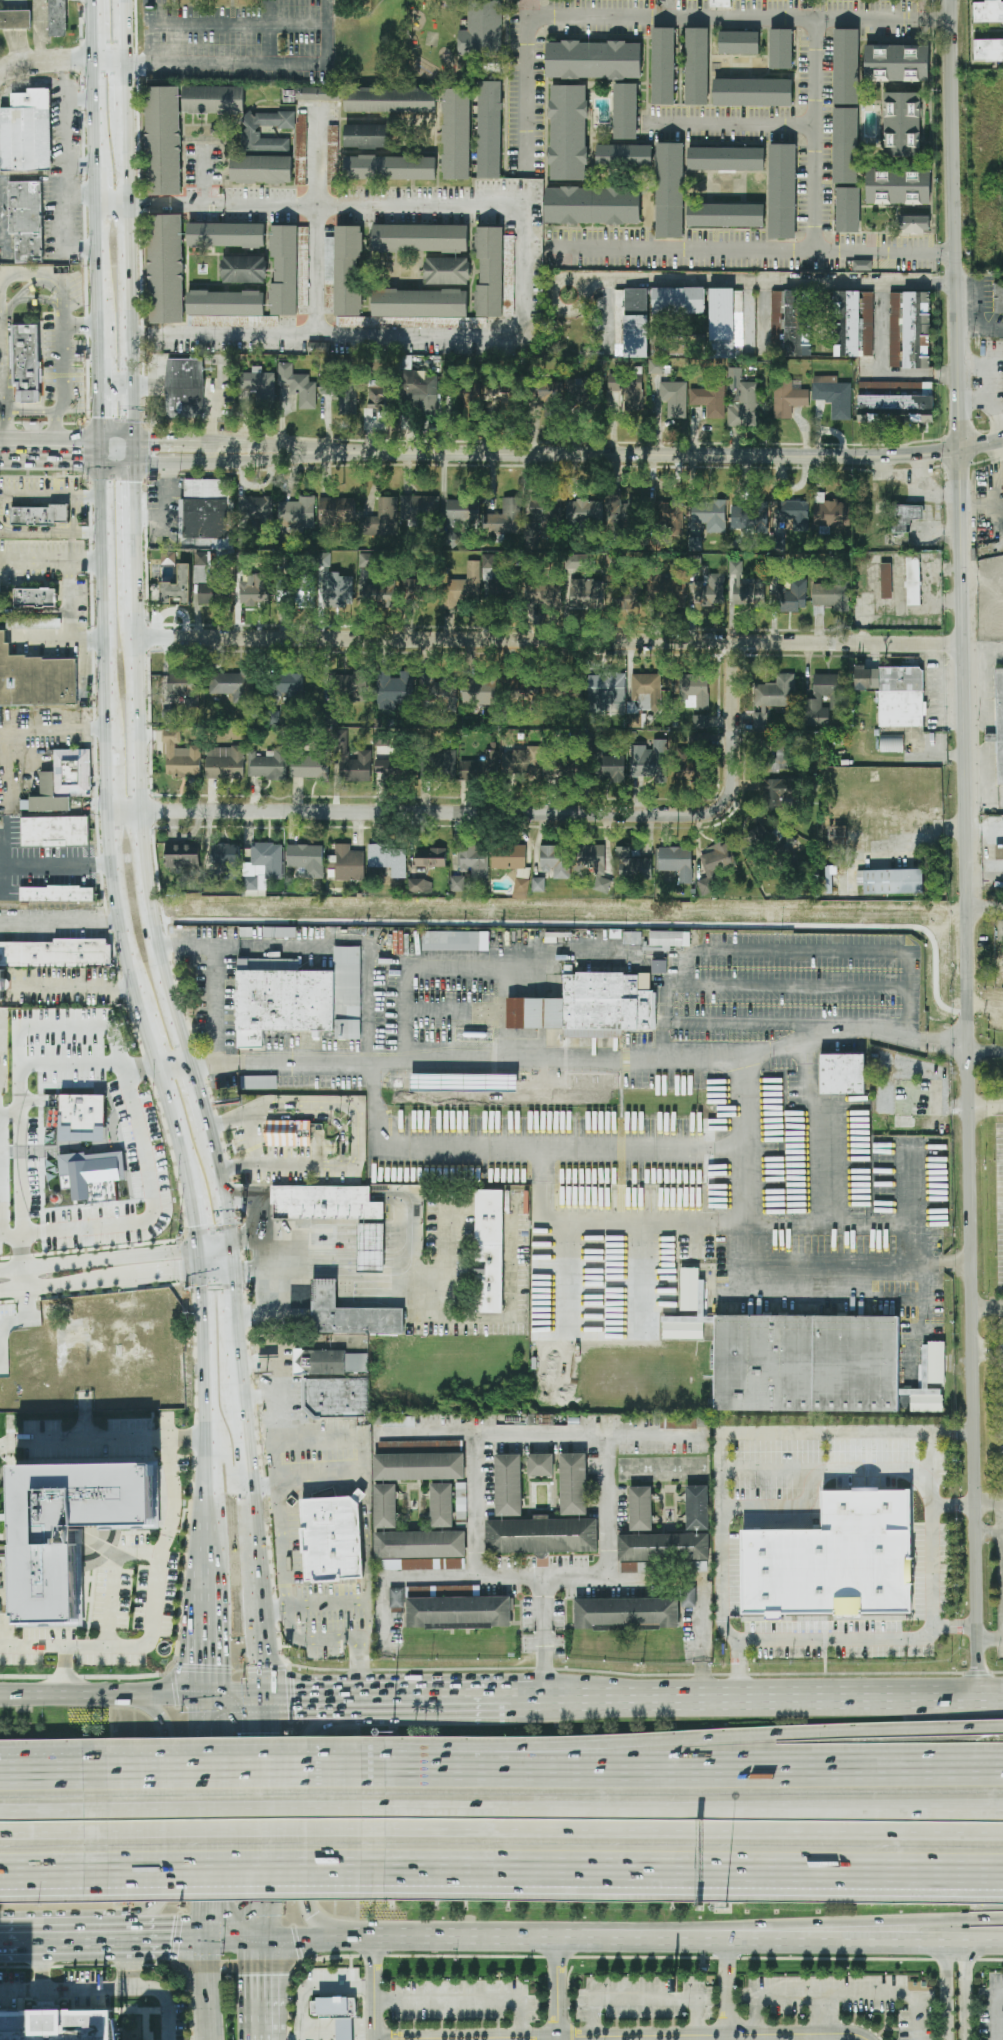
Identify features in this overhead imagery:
building: (988, 12)
building: (57, 18)
road: (740, 19)
building: (15, 20)
road: (220, 25)
building: (482, 30)
road: (40, 31)
road: (13, 32)
road: (95, 32)
road: (269, 32)
building: (739, 43)
building: (781, 49)
building: (988, 50)
building: (594, 60)
road: (47, 62)
building: (897, 63)
road: (110, 64)
road: (258, 64)
building: (663, 66)
building: (697, 66)
building: (846, 66)
road: (493, 70)
road: (64, 80)
road: (527, 92)
building: (753, 92)
building: (318, 93)
road: (81, 96)
building: (391, 100)
road: (96, 102)
building: (625, 112)
road: (732, 123)
building: (902, 124)
building: (179, 127)
road: (67, 129)
building: (490, 130)
building: (27, 132)
building: (568, 133)
building: (456, 134)
road: (819, 135)
building: (367, 136)
building: (845, 145)
building: (263, 151)
building: (624, 156)
building: (726, 158)
road: (82, 166)
building: (390, 168)
road: (204, 175)
road: (70, 177)
road: (98, 185)
building: (899, 186)
building: (670, 190)
building: (782, 191)
road: (222, 204)
road: (59, 205)
road: (421, 205)
building: (592, 205)
building: (848, 210)
building: (726, 215)
road: (317, 217)
road: (127, 219)
building: (26, 220)
building: (913, 225)
road: (113, 232)
building: (226, 235)
building: (420, 238)
road: (754, 250)
road: (80, 252)
building: (285, 256)
building: (862, 265)
building: (166, 268)
building: (244, 269)
building: (447, 270)
road: (525, 270)
road: (49, 274)
building: (493, 275)
road: (101, 278)
building: (350, 279)
road: (39, 283)
road: (760, 285)
building: (998, 297)
building: (678, 301)
building: (420, 306)
road: (607, 314)
road: (770, 318)
building: (636, 323)
building: (853, 324)
road: (980, 327)
road: (5, 328)
building: (910, 330)
road: (326, 336)
road: (104, 348)
road: (62, 362)
building: (25, 366)
building: (656, 366)
road: (886, 367)
road: (0, 379)
building: (259, 384)
building: (184, 389)
building: (294, 389)
road: (115, 390)
building: (421, 391)
building: (580, 391)
building: (340, 394)
building: (499, 396)
building: (833, 396)
building: (634, 397)
building: (674, 398)
building: (378, 399)
building: (551, 399)
building: (788, 399)
building: (709, 400)
building: (895, 402)
road: (105, 405)
building: (744, 406)
road: (31, 412)
traffic signals: (105, 417)
road: (6, 425)
road: (52, 439)
road: (115, 439)
traffic signals: (150, 439)
road: (162, 439)
road: (273, 442)
road: (105, 452)
road: (126, 452)
road: (676, 457)
road: (237, 462)
road: (12, 465)
road: (64, 465)
traffic signals: (83, 466)
road: (115, 466)
road: (170, 471)
traffic signals: (126, 483)
road: (52, 497)
road: (126, 500)
building: (419, 507)
building: (258, 508)
road: (170, 509)
building: (462, 510)
building: (337, 511)
building: (296, 512)
building: (830, 512)
building: (584, 513)
building: (793, 514)
building: (40, 515)
building: (670, 515)
building: (711, 515)
building: (504, 517)
building: (749, 517)
road: (137, 518)
building: (205, 518)
building: (382, 519)
building: (538, 519)
building: (902, 523)
road: (52, 533)
building: (695, 544)
road: (53, 556)
building: (167, 558)
building: (369, 560)
building: (578, 561)
building: (992, 563)
road: (127, 566)
building: (913, 580)
building: (886, 581)
building: (478, 585)
building: (177, 587)
building: (416, 588)
building: (664, 588)
building: (745, 588)
building: (255, 590)
building: (297, 590)
building: (337, 590)
building: (709, 591)
building: (207, 592)
building: (543, 594)
building: (585, 594)
building: (378, 595)
building: (793, 596)
building: (830, 596)
building: (34, 597)
road: (70, 598)
road: (171, 611)
building: (38, 623)
road: (75, 639)
road: (546, 641)
building: (35, 680)
building: (288, 683)
building: (233, 685)
building: (182, 687)
building: (394, 690)
building: (438, 691)
building: (480, 691)
building: (646, 691)
building: (694, 691)
building: (606, 694)
building: (895, 694)
building: (771, 698)
building: (822, 700)
building: (170, 715)
building: (700, 721)
building: (998, 724)
road: (55, 725)
building: (697, 739)
building: (892, 743)
building: (784, 753)
building: (180, 757)
building: (650, 761)
building: (225, 762)
building: (352, 762)
building: (522, 763)
building: (267, 765)
building: (445, 765)
building: (309, 767)
building: (480, 767)
building: (386, 768)
building: (610, 768)
building: (563, 769)
building: (688, 770)
road: (108, 773)
building: (61, 782)
building: (781, 794)
road: (500, 813)
road: (931, 826)
building: (55, 832)
road: (137, 834)
building: (837, 839)
road: (965, 847)
building: (999, 851)
building: (182, 855)
building: (430, 857)
building: (509, 857)
building: (592, 857)
building: (226, 858)
building: (268, 858)
building: (473, 860)
building: (305, 861)
building: (387, 861)
building: (555, 861)
building: (677, 862)
building: (347, 863)
road: (39, 865)
building: (633, 865)
building: (715, 865)
building: (253, 877)
building: (890, 881)
building: (457, 883)
building: (538, 884)
building: (602, 884)
building: (420, 885)
building: (521, 888)
building: (58, 894)
road: (984, 907)
road: (60, 925)
building: (669, 939)
building: (456, 941)
road: (241, 944)
road: (618, 946)
building: (58, 953)
building: (659, 966)
building: (2, 984)
road: (76, 986)
building: (299, 999)
road: (221, 1001)
road: (411, 1005)
building: (590, 1006)
road: (436, 1009)
road: (985, 1050)
road: (582, 1058)
building: (842, 1074)
building: (259, 1082)
road: (18, 1096)
road: (196, 1097)
road: (986, 1105)
building: (82, 1117)
road: (353, 1131)
building: (287, 1133)
road: (178, 1134)
road: (518, 1148)
road: (801, 1166)
building: (92, 1175)
road: (143, 1175)
road: (217, 1186)
road: (865, 1195)
building: (325, 1203)
road: (257, 1205)
road: (198, 1220)
road: (256, 1239)
road: (213, 1244)
building: (370, 1247)
building: (489, 1251)
road: (21, 1252)
road: (288, 1254)
road: (226, 1255)
road: (202, 1257)
road: (748, 1257)
road: (100, 1258)
road: (943, 1264)
road: (216, 1268)
road: (258, 1268)
road: (400, 1270)
road: (917, 1272)
road: (101, 1279)
building: (689, 1289)
road: (446, 1298)
road: (987, 1306)
building: (350, 1314)
building: (687, 1324)
road: (232, 1332)
road: (277, 1347)
building: (328, 1362)
building: (808, 1362)
road: (204, 1366)
road: (257, 1396)
building: (335, 1398)
road: (280, 1416)
building: (399, 1421)
building: (680, 1423)
road: (846, 1433)
road: (540, 1434)
road: (314, 1436)
road: (134, 1439)
road: (241, 1440)
road: (223, 1449)
building: (541, 1465)
building: (419, 1466)
road: (825, 1470)
road: (261, 1482)
building: (573, 1484)
building: (508, 1485)
road: (204, 1493)
building: (358, 1494)
road: (988, 1501)
road: (472, 1503)
building: (442, 1505)
road: (608, 1507)
building: (641, 1508)
building: (697, 1508)
road: (846, 1509)
road: (365, 1516)
road: (250, 1522)
building: (69, 1529)
road: (929, 1531)
road: (988, 1531)
building: (542, 1536)
building: (332, 1538)
building: (412, 1540)
road: (719, 1541)
road: (203, 1547)
building: (825, 1573)
road: (112, 1579)
road: (562, 1580)
road: (203, 1591)
road: (285, 1593)
building: (688, 1595)
building: (397, 1597)
road: (327, 1602)
road: (273, 1606)
building: (458, 1611)
road: (151, 1613)
building: (626, 1613)
road: (260, 1625)
road: (542, 1635)
road: (858, 1639)
road: (989, 1639)
road: (202, 1649)
road: (359, 1662)
road: (65, 1667)
road: (739, 1667)
traffic signals: (202, 1688)
road: (234, 1688)
traffic signals: (267, 1688)
road: (304, 1688)
road: (427, 1688)
road: (100, 1689)
road: (758, 1692)
road: (682, 1743)
road: (274, 1761)
road: (228, 1767)
road: (47, 1769)
road: (682, 1769)
road: (682, 1807)
road: (229, 1808)
road: (48, 1810)
road: (171, 1814)
road: (203, 1816)
road: (262, 1816)
road: (294, 1819)
road: (227, 1830)
road: (680, 1830)
road: (48, 1831)
road: (229, 1873)
road: (631, 1873)
road: (48, 1874)
road: (952, 1874)
road: (7, 1875)
road: (952, 1877)
road: (813, 1925)
road: (176, 1938)
road: (489, 1940)
road: (306, 1941)
road: (297, 1942)
road: (231, 1944)
traffic signals: (257, 1944)
road: (813, 1944)
road: (64, 1945)
road: (167, 1945)
traffic signals: (205, 1945)
road: (372, 1955)
road: (465, 1956)
road: (351, 1962)
road: (129, 1965)
road: (129, 1965)
road: (84, 1966)
road: (296, 1966)
road: (15, 1967)
road: (42, 1967)
road: (43, 1967)
road: (236, 1967)
road: (351, 1981)
road: (187, 1983)
road: (107, 1986)
road: (374, 1989)
road: (727, 1989)
road: (557, 1990)
road: (28, 1991)
road: (61, 1991)
road: (258, 1991)
road: (206, 1992)
road: (944, 1993)
road: (965, 1993)
road: (351, 1994)
road: (568, 1994)
road: (839, 1995)
road: (300, 1996)
parking lot: (644, 1997)
road: (648, 1997)
road: (60, 1999)
parking lot: (844, 1999)
road: (35, 2000)
parking lot: (465, 2000)
road: (465, 2001)
parking lot: (991, 2009)
road: (137, 2010)
road: (164, 2010)
road: (996, 2011)
road: (820, 2014)
building: (336, 2015)
road: (498, 2023)
building: (56, 2024)
road: (414, 2024)
road: (441, 2024)
road: (456, 2024)
road: (482, 2024)
road: (147, 2025)
road: (399, 2025)
road: (572, 2031)
road: (497, 2033)
road: (399, 2034)
road: (414, 2034)
road: (441, 2034)
road: (456, 2034)
road: (482, 2034)
road: (289, 2035)
road: (621, 2035)
road: (820, 2037)
road: (286, 2038)
road: (364, 2038)
road: (191, 2039)

